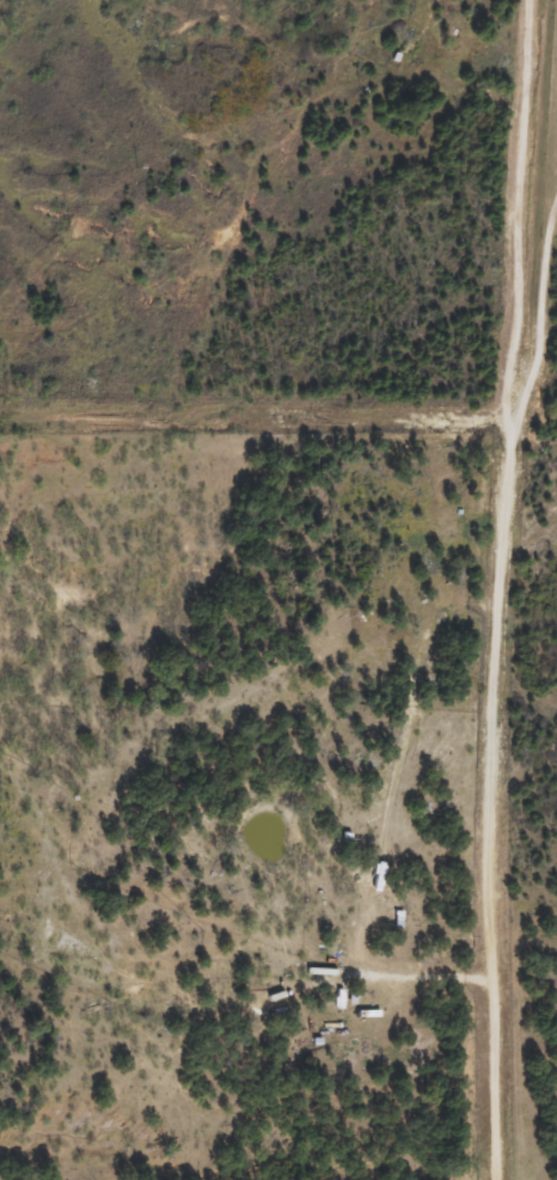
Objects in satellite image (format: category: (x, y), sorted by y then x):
road: (508, 589)

